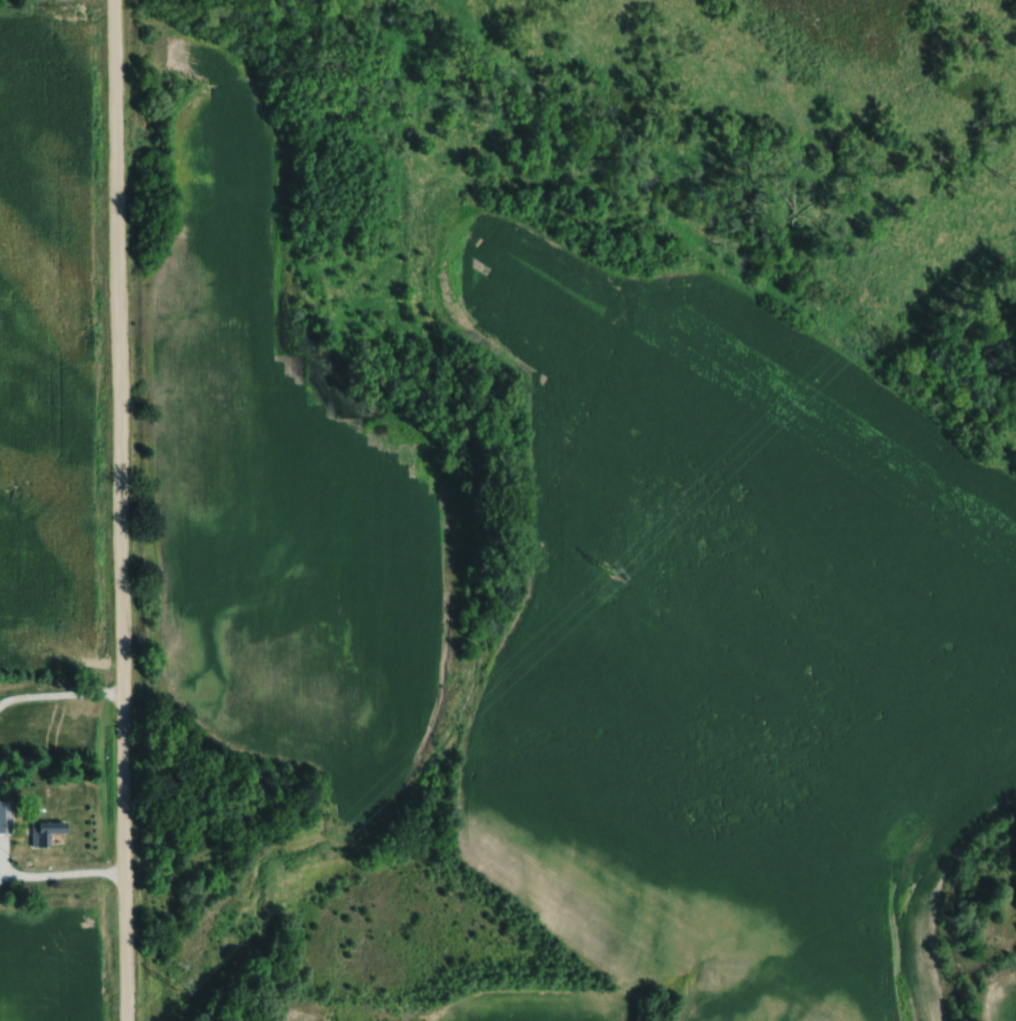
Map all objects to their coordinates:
power tower: (1015, 182)
road: (120, 510)
power tower: (625, 551)
road: (61, 702)
building: (4, 814)
building: (44, 832)
road: (61, 879)
power tower: (171, 983)

